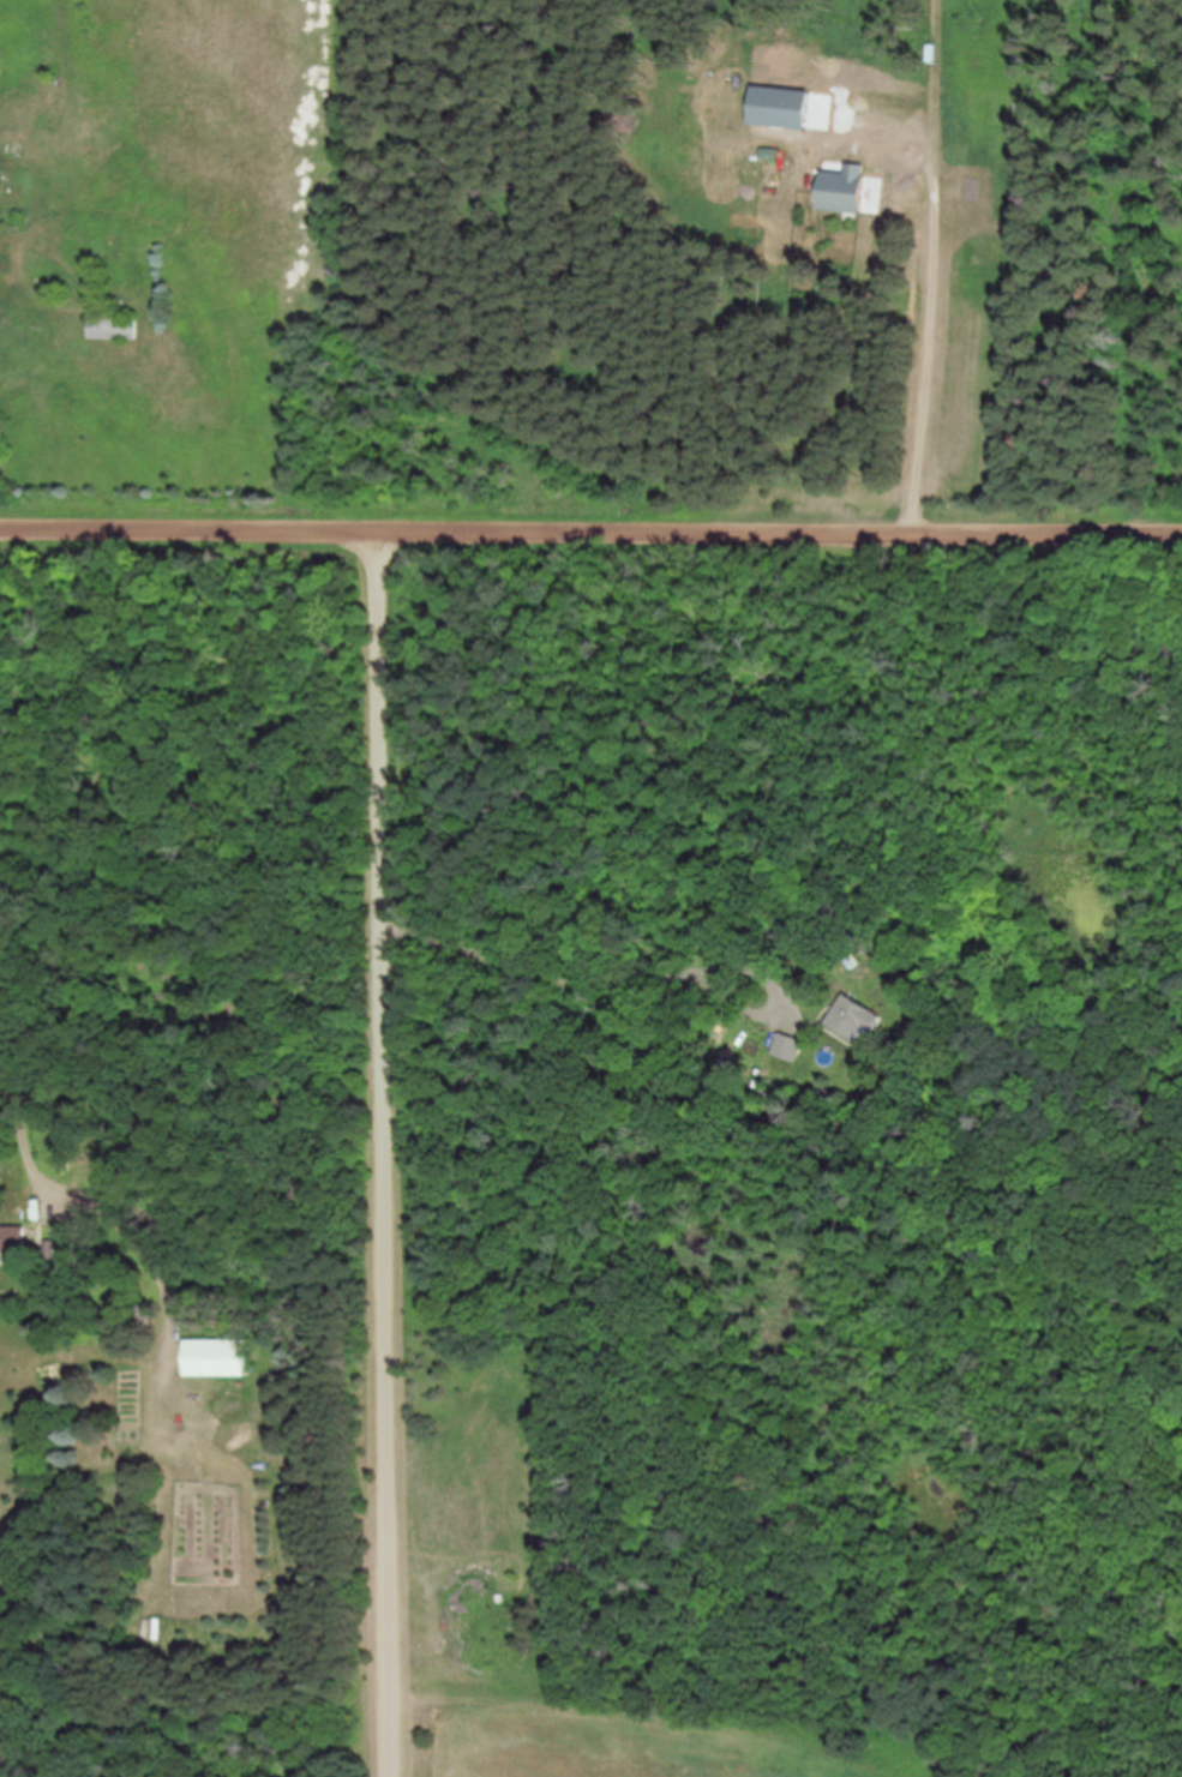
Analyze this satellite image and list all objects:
building: (776, 109)
building: (840, 192)
building: (109, 326)
road: (724, 332)
road: (590, 532)
building: (850, 1020)
road: (625, 1047)
building: (785, 1050)
building: (722, 1076)
road: (382, 1153)
building: (11, 1239)
building: (211, 1358)

